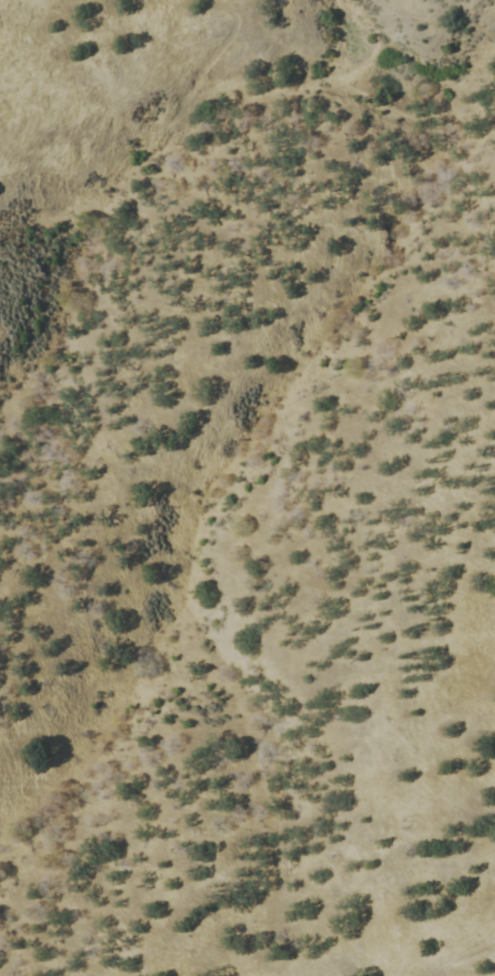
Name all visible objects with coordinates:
park: (466, 10)

